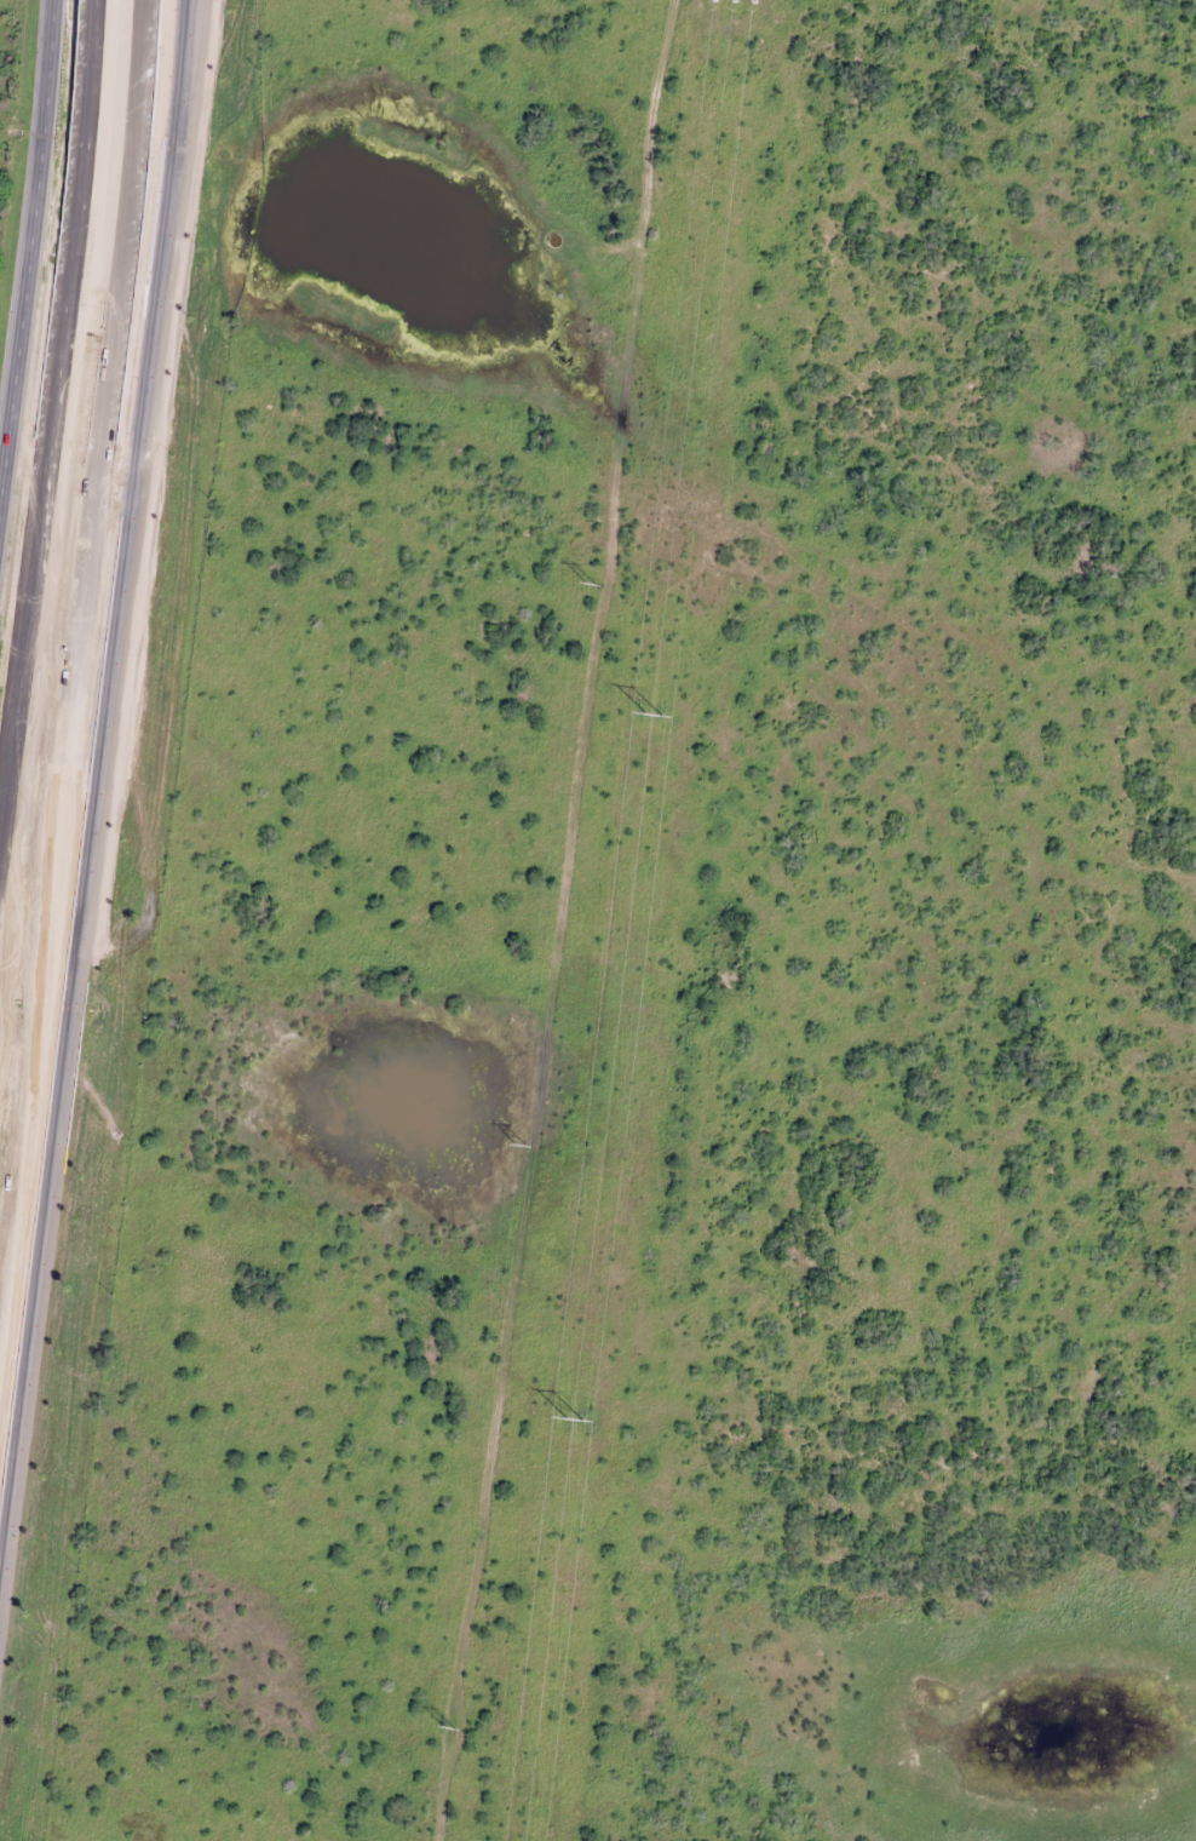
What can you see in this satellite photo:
power tower: (736, 0)
road: (29, 236)
road: (139, 406)
road: (48, 411)
road: (99, 420)
power tower: (592, 585)
power tower: (651, 719)
road: (53, 983)
road: (42, 999)
power tower: (523, 1146)
road: (16, 1313)
power tower: (570, 1421)
power tower: (450, 1727)

